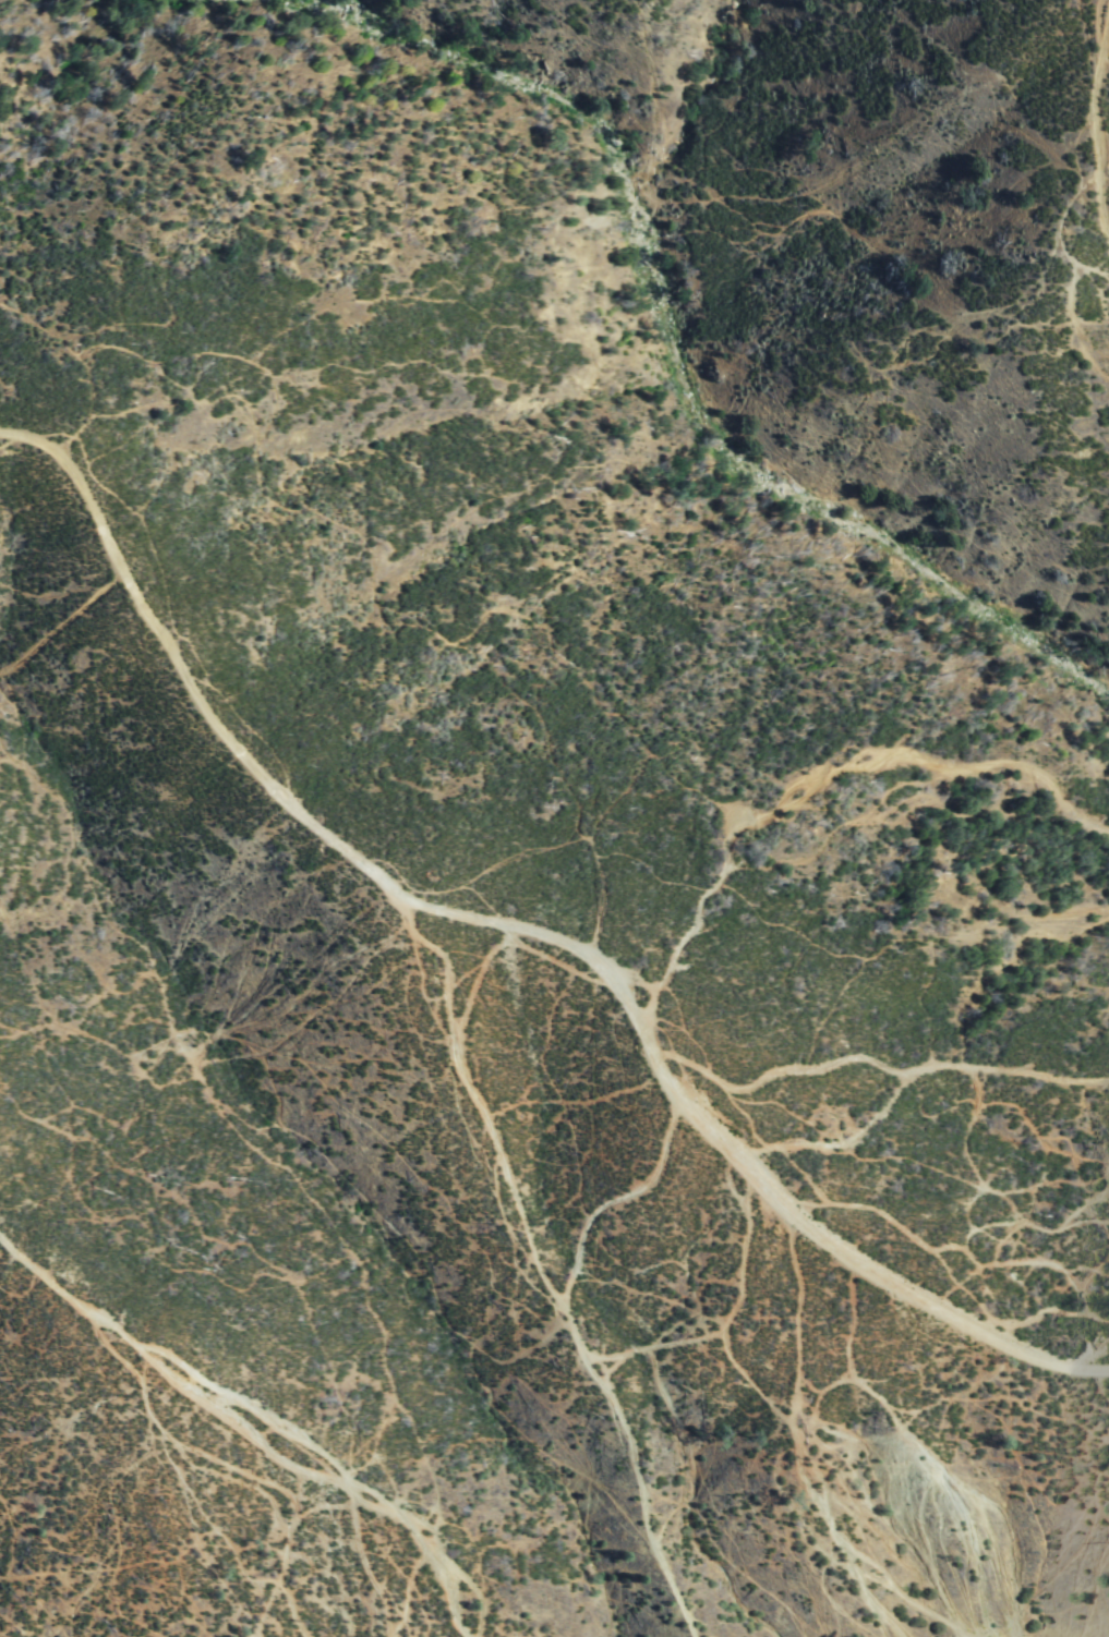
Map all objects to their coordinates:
road: (1095, 118)
road: (181, 675)
road: (821, 784)
road: (912, 1078)
road: (731, 1151)
road: (530, 1266)
road: (254, 1408)

